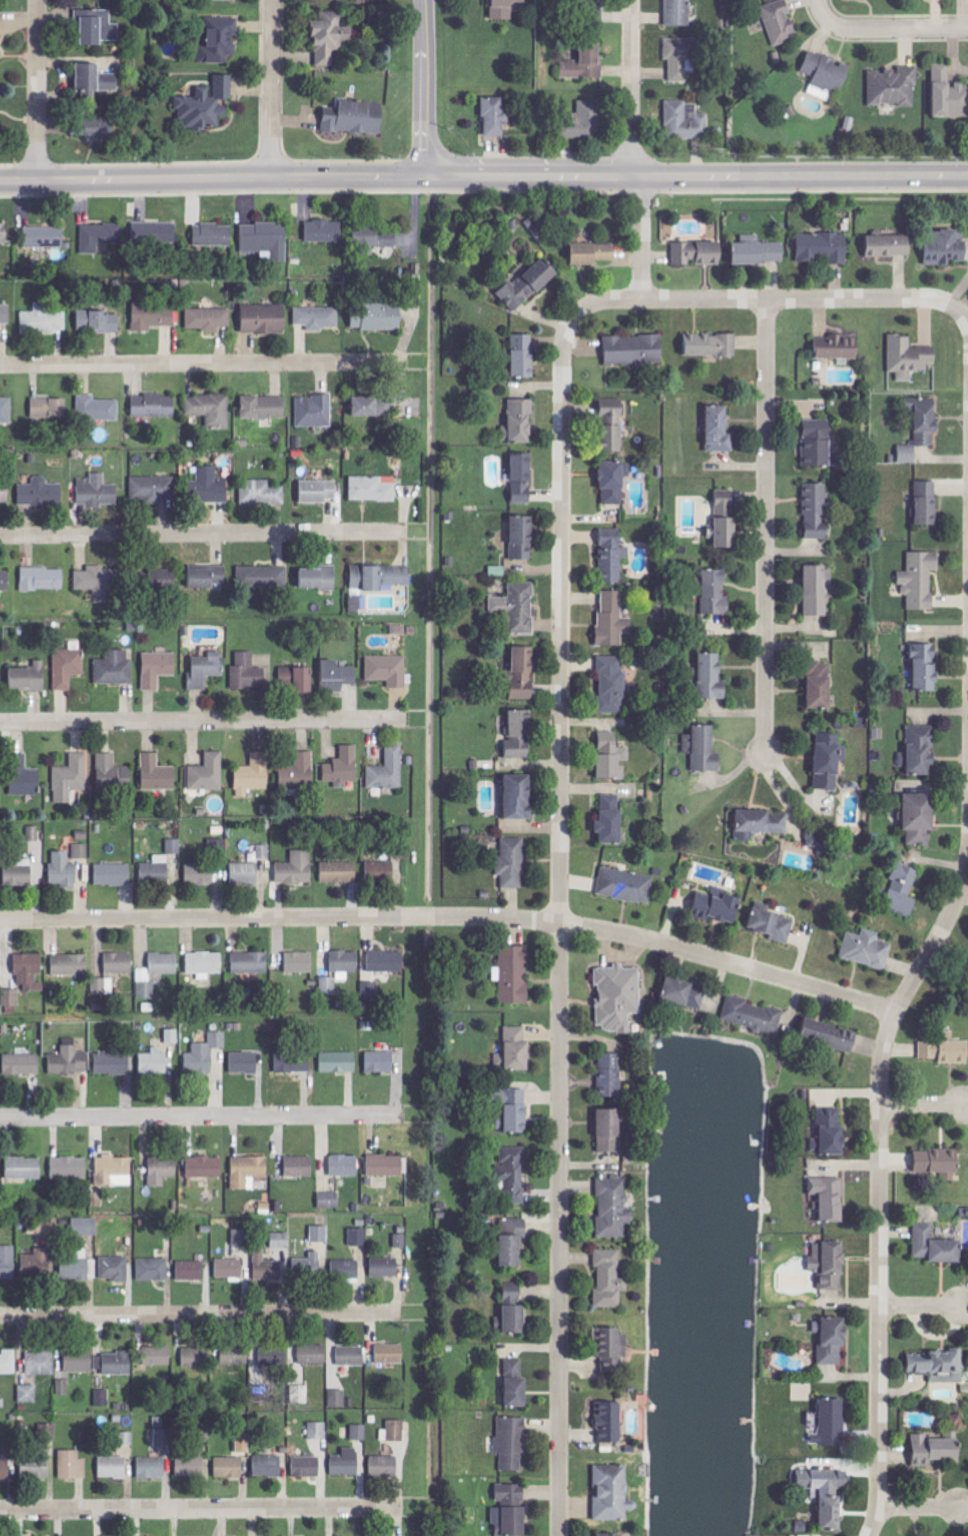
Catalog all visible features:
building: (217, 0)
building: (1, 2)
building: (503, 9)
building: (597, 10)
road: (820, 10)
building: (680, 12)
building: (781, 22)
building: (97, 26)
building: (1, 29)
road: (895, 29)
building: (330, 37)
building: (220, 40)
building: (680, 57)
building: (586, 63)
building: (826, 74)
building: (89, 76)
building: (111, 82)
building: (894, 87)
road: (632, 88)
road: (37, 89)
road: (271, 89)
road: (422, 89)
building: (949, 93)
building: (207, 104)
building: (496, 116)
building: (357, 118)
building: (586, 120)
building: (686, 120)
building: (100, 128)
road: (694, 176)
road: (209, 179)
building: (523, 222)
building: (507, 223)
building: (532, 229)
building: (540, 230)
building: (325, 231)
building: (156, 232)
building: (4, 233)
building: (213, 235)
building: (44, 237)
building: (100, 237)
building: (535, 237)
road: (641, 238)
building: (266, 239)
building: (376, 243)
building: (889, 246)
building: (824, 247)
building: (946, 248)
building: (581, 250)
building: (699, 253)
building: (760, 253)
building: (519, 283)
road: (792, 299)
road: (957, 311)
building: (5, 314)
building: (153, 316)
building: (265, 318)
building: (318, 318)
building: (209, 319)
building: (375, 319)
building: (43, 320)
building: (99, 321)
building: (712, 345)
building: (839, 348)
building: (635, 349)
building: (515, 355)
building: (909, 358)
road: (204, 364)
building: (154, 406)
building: (264, 407)
building: (373, 407)
building: (50, 408)
building: (97, 409)
building: (211, 409)
building: (6, 410)
building: (315, 411)
building: (520, 422)
building: (614, 425)
building: (922, 427)
building: (720, 430)
building: (820, 444)
building: (523, 479)
building: (615, 482)
building: (209, 486)
building: (374, 488)
building: (152, 489)
building: (97, 491)
building: (318, 491)
building: (262, 492)
building: (4, 493)
building: (41, 493)
building: (927, 503)
building: (817, 510)
building: (727, 519)
road: (767, 527)
road: (204, 534)
building: (523, 538)
building: (613, 556)
building: (498, 571)
building: (209, 577)
building: (263, 577)
building: (380, 577)
building: (319, 578)
building: (43, 579)
building: (921, 580)
building: (5, 581)
building: (99, 581)
building: (167, 582)
building: (818, 590)
building: (716, 593)
building: (518, 607)
building: (613, 620)
building: (399, 630)
building: (68, 668)
building: (115, 668)
building: (158, 668)
building: (926, 668)
building: (206, 670)
building: (388, 670)
building: (249, 673)
building: (523, 674)
building: (338, 676)
building: (0, 677)
building: (713, 677)
building: (29, 678)
building: (298, 679)
building: (820, 684)
building: (613, 685)
road: (203, 722)
building: (519, 734)
building: (704, 749)
building: (920, 752)
building: (612, 757)
building: (830, 761)
building: (343, 768)
building: (299, 771)
building: (388, 771)
building: (112, 772)
building: (209, 773)
building: (157, 774)
building: (254, 775)
building: (24, 777)
building: (71, 779)
building: (520, 798)
building: (920, 819)
building: (612, 821)
building: (761, 824)
building: (33, 834)
building: (818, 837)
building: (218, 845)
building: (174, 847)
building: (81, 851)
building: (264, 852)
building: (513, 863)
building: (297, 869)
building: (64, 870)
building: (380, 871)
building: (154, 872)
building: (340, 872)
building: (20, 873)
building: (246, 873)
building: (200, 874)
building: (113, 875)
building: (627, 886)
road: (560, 889)
building: (904, 891)
building: (718, 907)
road: (453, 917)
building: (773, 926)
building: (867, 949)
building: (345, 962)
building: (386, 962)
building: (119, 963)
building: (205, 963)
building: (250, 963)
building: (300, 963)
building: (69, 965)
building: (155, 973)
building: (30, 974)
building: (514, 975)
building: (101, 987)
building: (329, 987)
building: (369, 990)
building: (686, 994)
building: (11, 998)
building: (619, 998)
building: (753, 1016)
building: (173, 1036)
building: (830, 1036)
building: (518, 1050)
building: (945, 1052)
building: (205, 1055)
building: (70, 1062)
building: (154, 1062)
building: (380, 1062)
building: (244, 1063)
building: (293, 1063)
building: (339, 1063)
building: (113, 1064)
building: (22, 1065)
building: (610, 1076)
road: (921, 1105)
building: (515, 1109)
road: (202, 1117)
building: (610, 1132)
building: (831, 1133)
building: (940, 1164)
building: (345, 1166)
building: (389, 1166)
building: (205, 1167)
building: (300, 1167)
building: (24, 1168)
building: (70, 1168)
building: (115, 1171)
building: (162, 1171)
building: (248, 1172)
building: (513, 1174)
road: (879, 1187)
building: (830, 1198)
building: (330, 1200)
building: (614, 1206)
building: (964, 1213)
building: (85, 1227)
building: (320, 1234)
building: (358, 1237)
building: (241, 1238)
building: (280, 1241)
building: (400, 1241)
building: (513, 1242)
building: (937, 1247)
building: (8, 1263)
building: (829, 1263)
building: (38, 1264)
building: (308, 1265)
building: (266, 1267)
building: (385, 1268)
building: (79, 1269)
building: (116, 1269)
building: (229, 1269)
building: (153, 1270)
building: (346, 1270)
building: (191, 1272)
building: (610, 1279)
road: (918, 1307)
road: (201, 1315)
building: (516, 1321)
building: (832, 1340)
building: (612, 1350)
building: (390, 1354)
building: (313, 1355)
building: (157, 1357)
building: (236, 1357)
building: (351, 1357)
building: (195, 1358)
building: (272, 1358)
building: (79, 1362)
building: (8, 1363)
building: (41, 1364)
building: (115, 1364)
building: (939, 1366)
building: (516, 1384)
building: (63, 1388)
building: (803, 1391)
building: (28, 1394)
building: (102, 1398)
building: (338, 1398)
building: (610, 1421)
building: (832, 1423)
building: (317, 1430)
building: (394, 1430)
building: (49, 1431)
building: (359, 1431)
building: (944, 1436)
building: (163, 1437)
building: (126, 1439)
building: (243, 1442)
building: (512, 1442)
building: (935, 1450)
building: (346, 1462)
building: (72, 1465)
building: (192, 1465)
building: (268, 1465)
building: (384, 1465)
building: (306, 1466)
building: (36, 1467)
building: (113, 1467)
building: (152, 1467)
building: (229, 1467)
building: (5, 1469)
building: (511, 1491)
building: (613, 1493)
building: (828, 1493)
road: (918, 1508)
road: (201, 1509)
building: (510, 1520)
building: (610, 1534)
building: (115, 1535)

